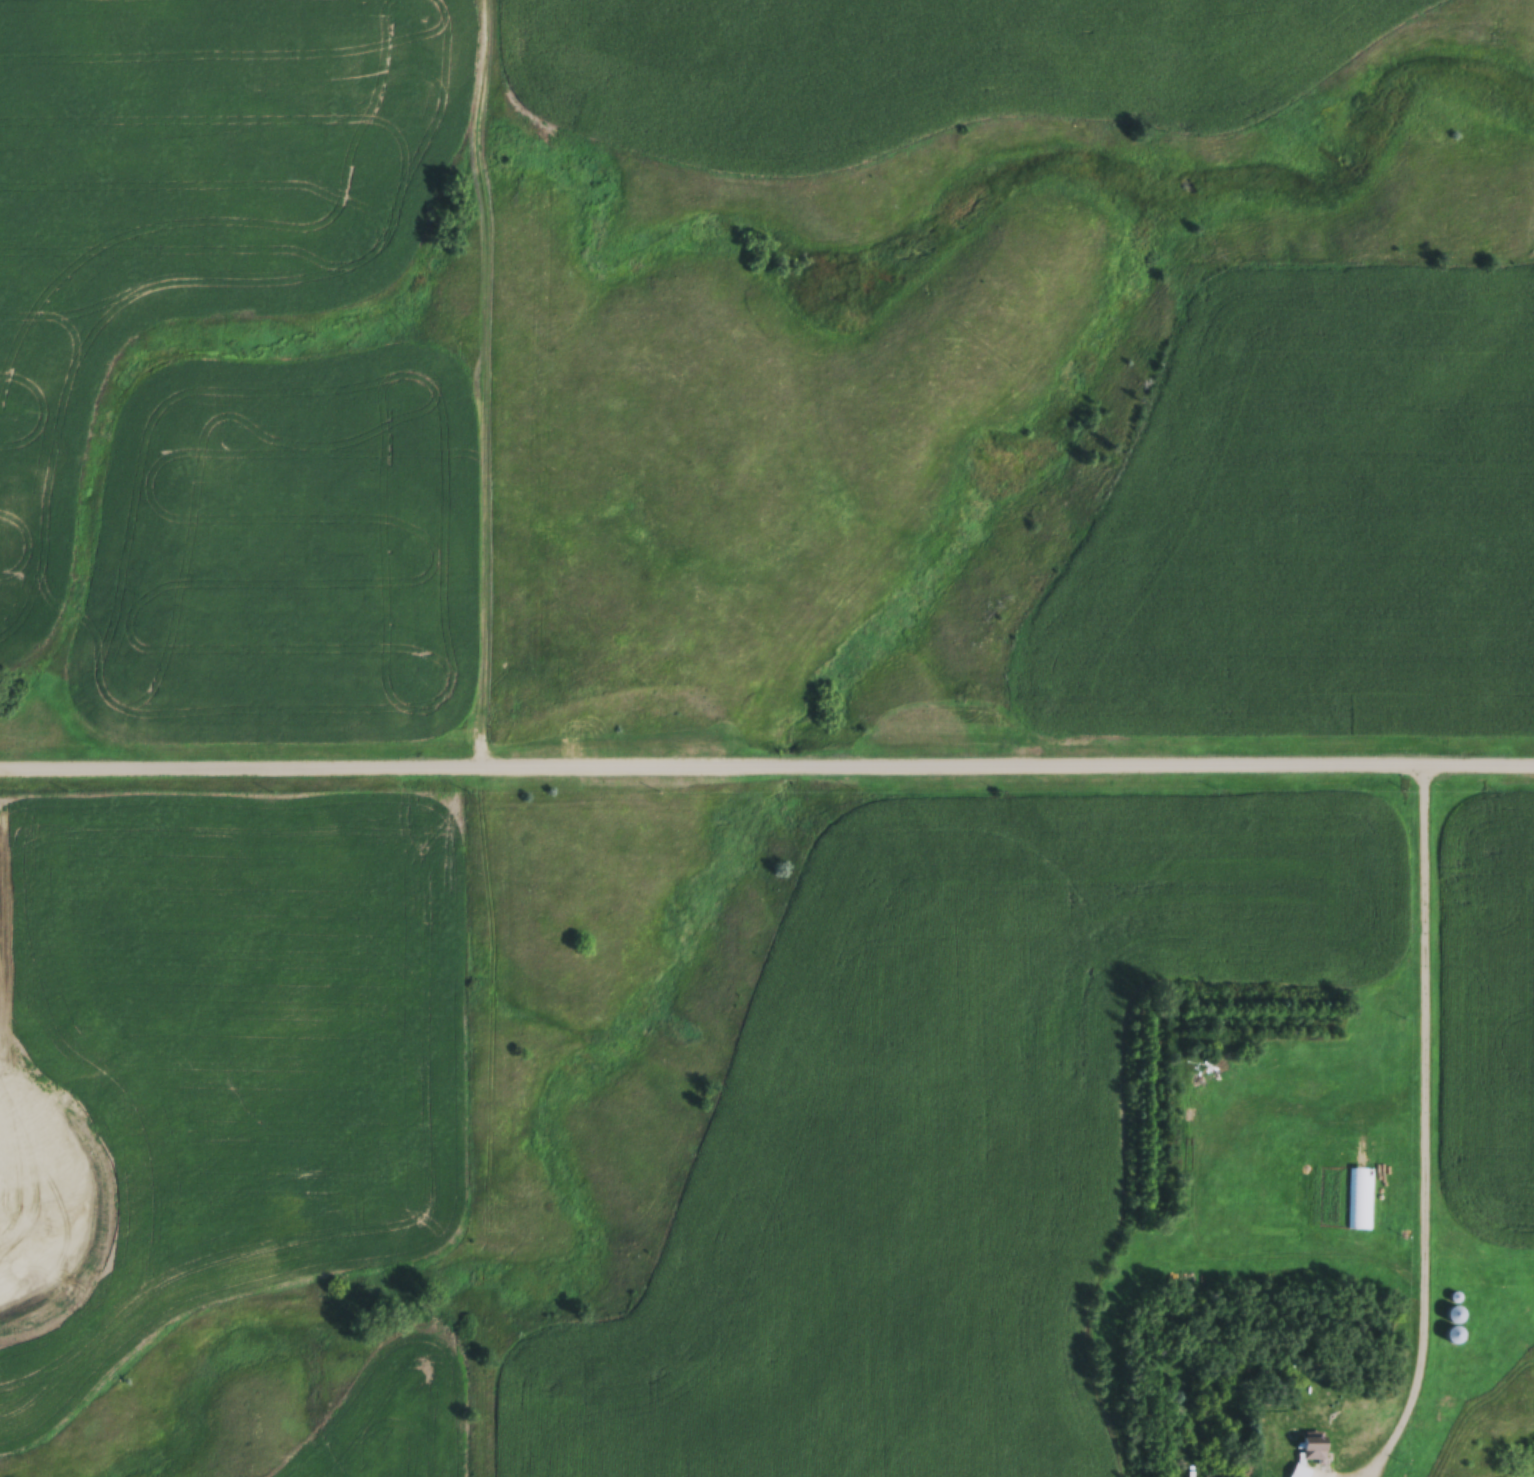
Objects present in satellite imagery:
road: (483, 380)
road: (766, 760)
road: (1425, 1133)
building: (1357, 1200)

